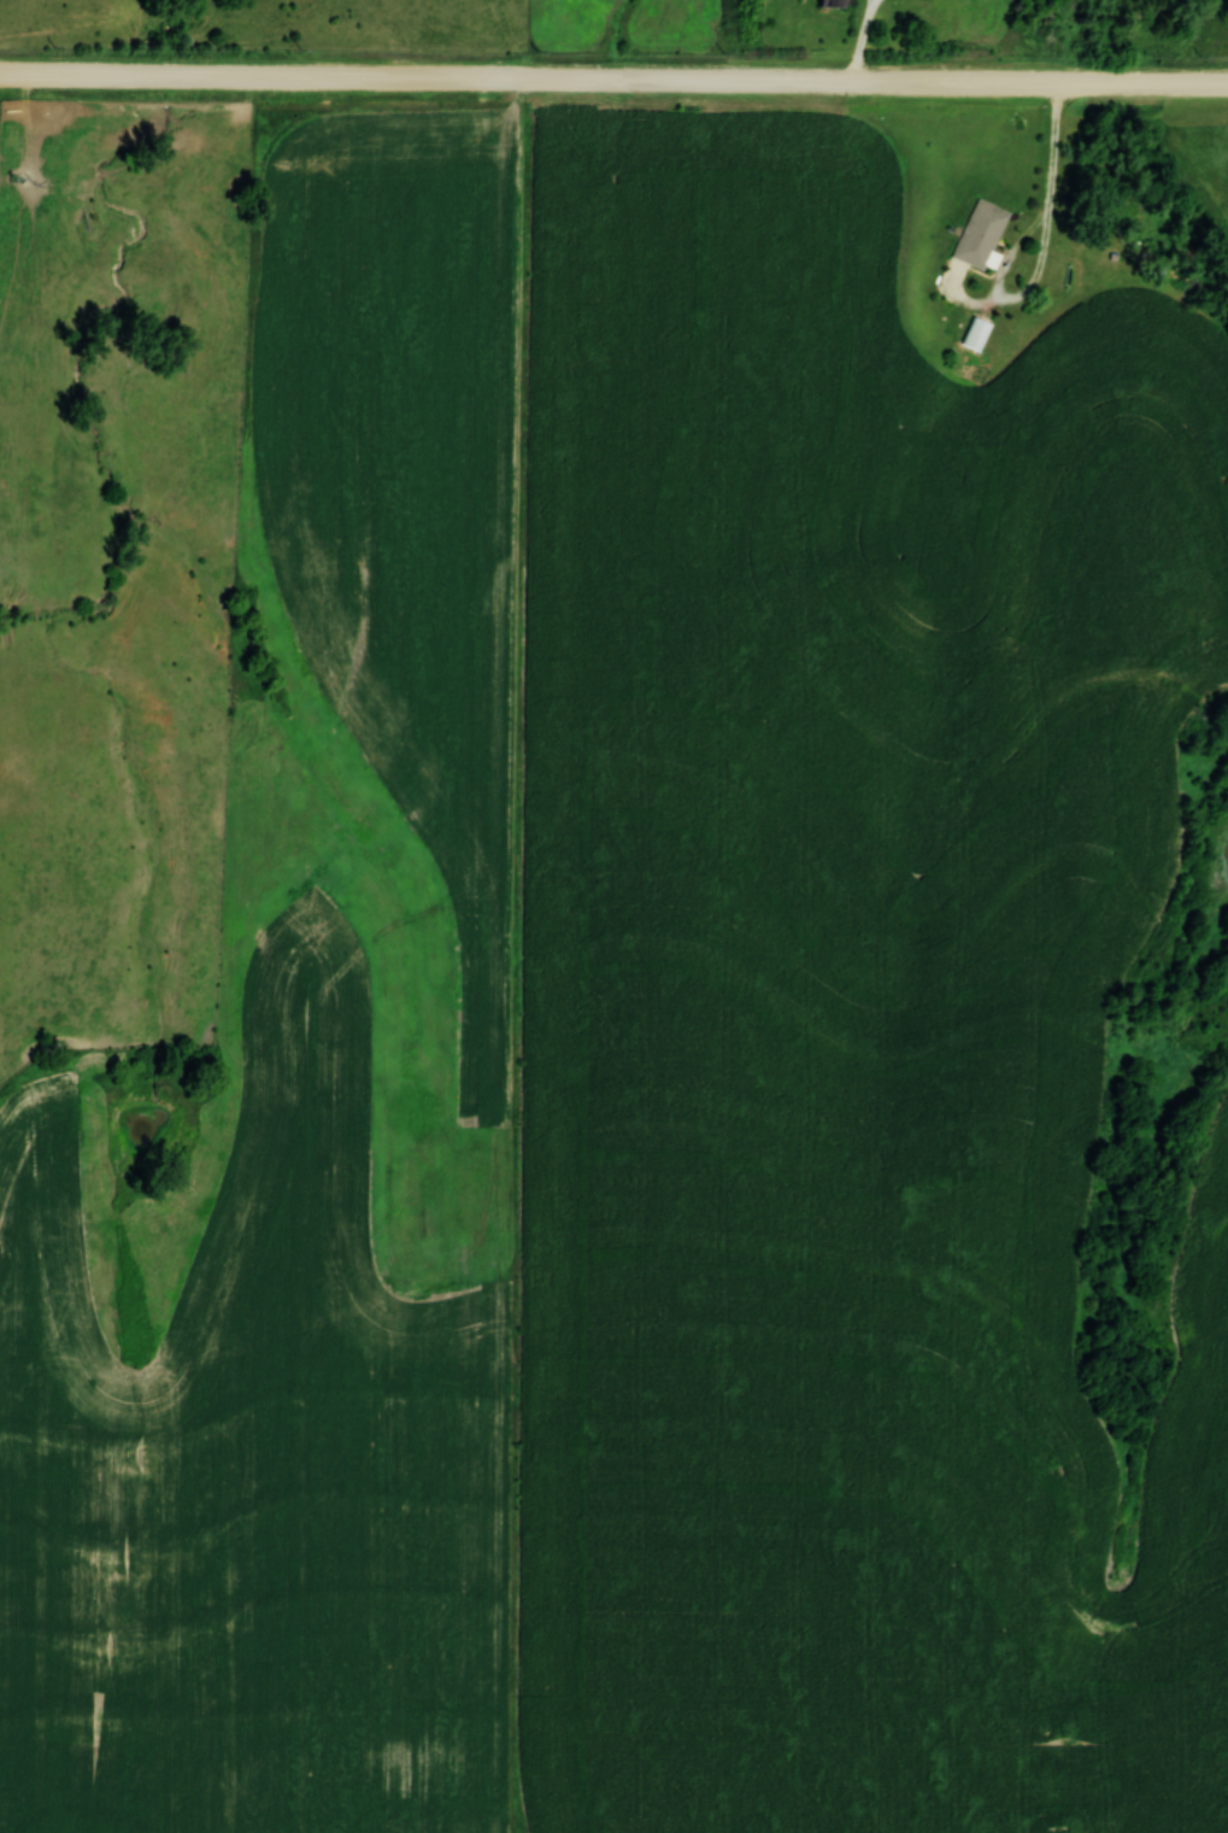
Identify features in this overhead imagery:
building: (829, 2)
road: (870, 41)
road: (613, 84)
road: (1062, 160)
building: (979, 232)
road: (1032, 294)
building: (974, 332)

